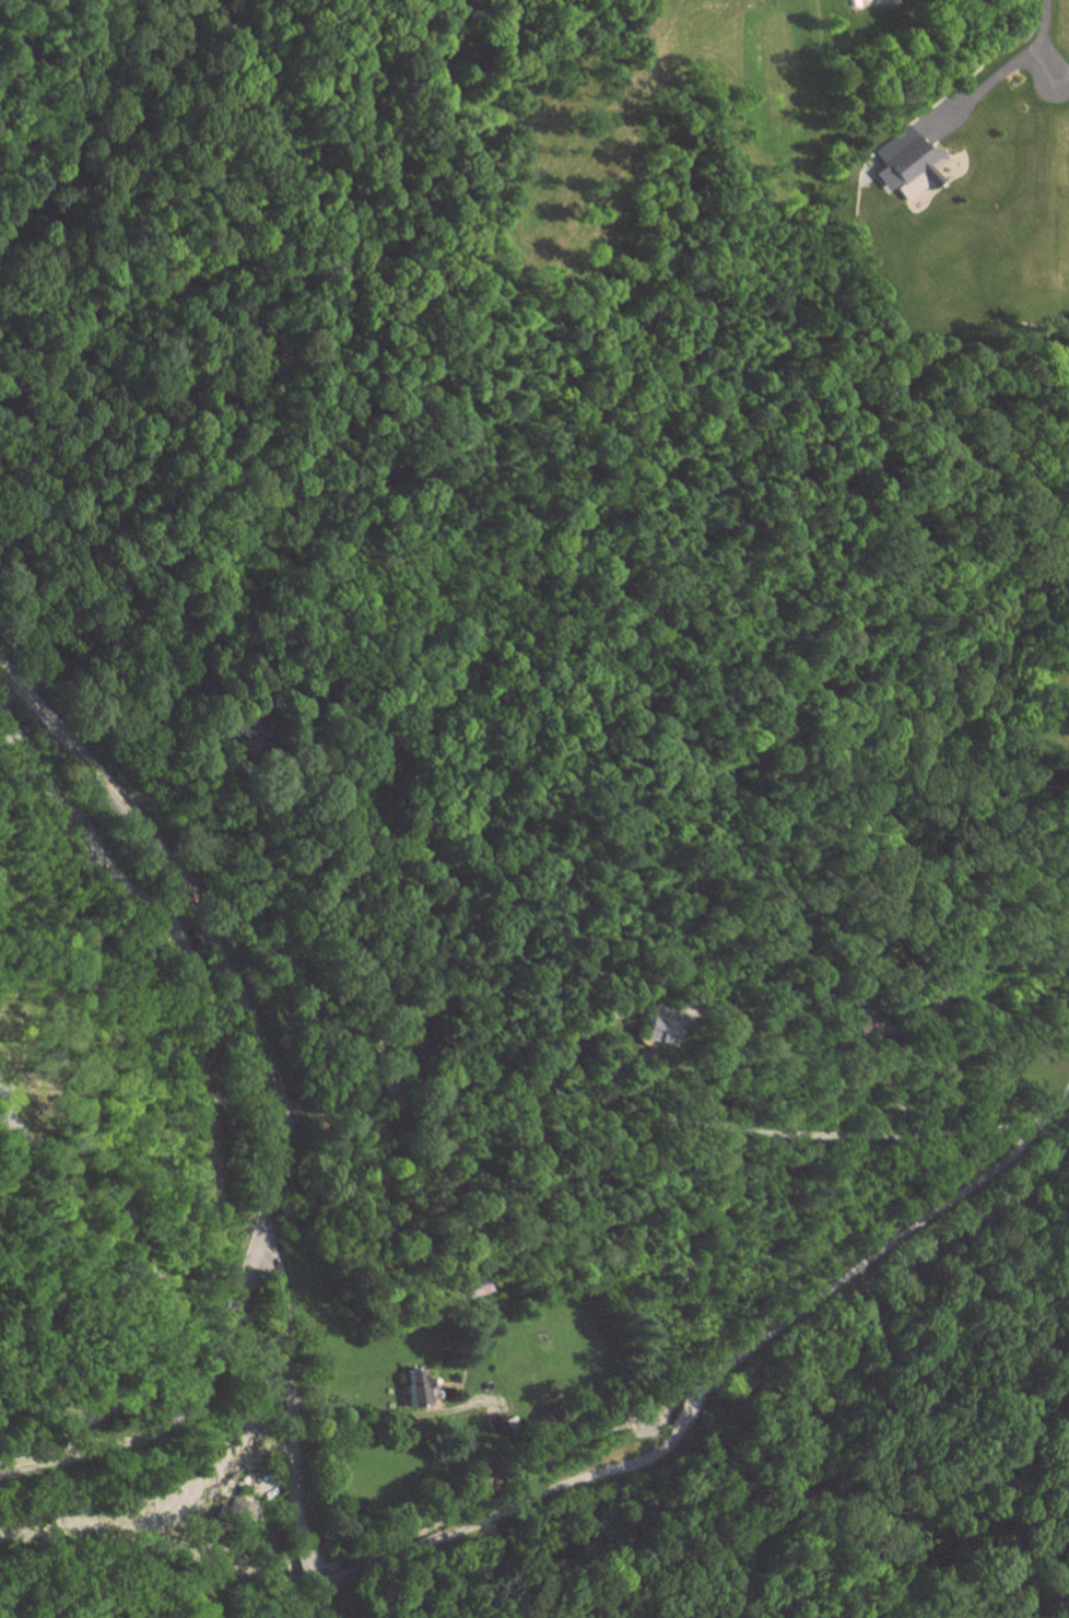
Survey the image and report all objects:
road: (1002, 75)
building: (908, 162)
road: (216, 833)
road: (213, 929)
building: (660, 1031)
road: (891, 1092)
road: (1053, 1115)
road: (338, 1125)
road: (713, 1126)
road: (238, 1292)
road: (291, 1385)
building: (420, 1388)
road: (690, 1400)
road: (387, 1418)
road: (139, 1437)
road: (307, 1557)
road: (321, 1598)

